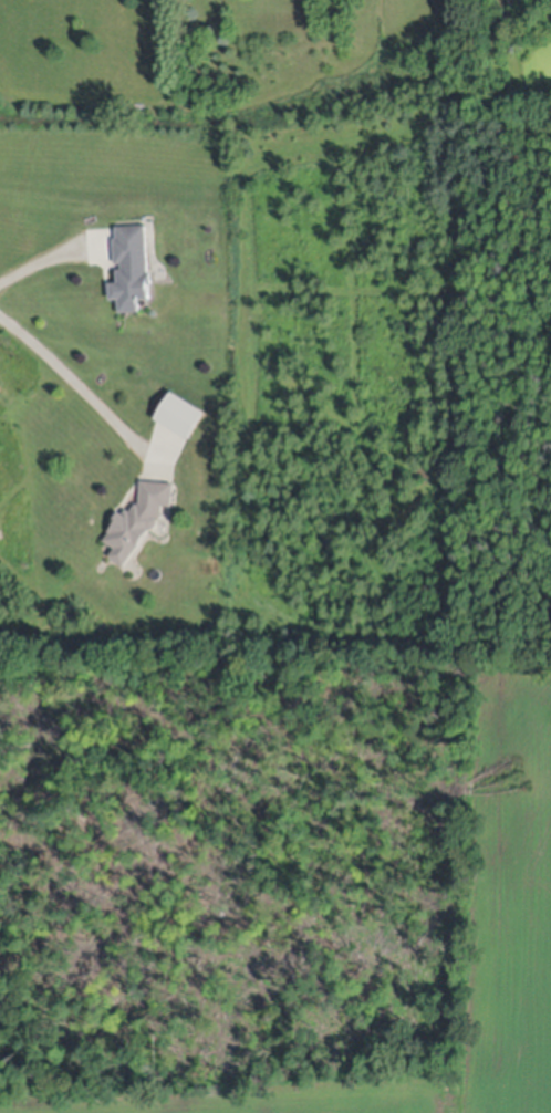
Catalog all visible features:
road: (49, 256)
building: (132, 261)
road: (73, 379)
building: (181, 406)
building: (139, 513)

